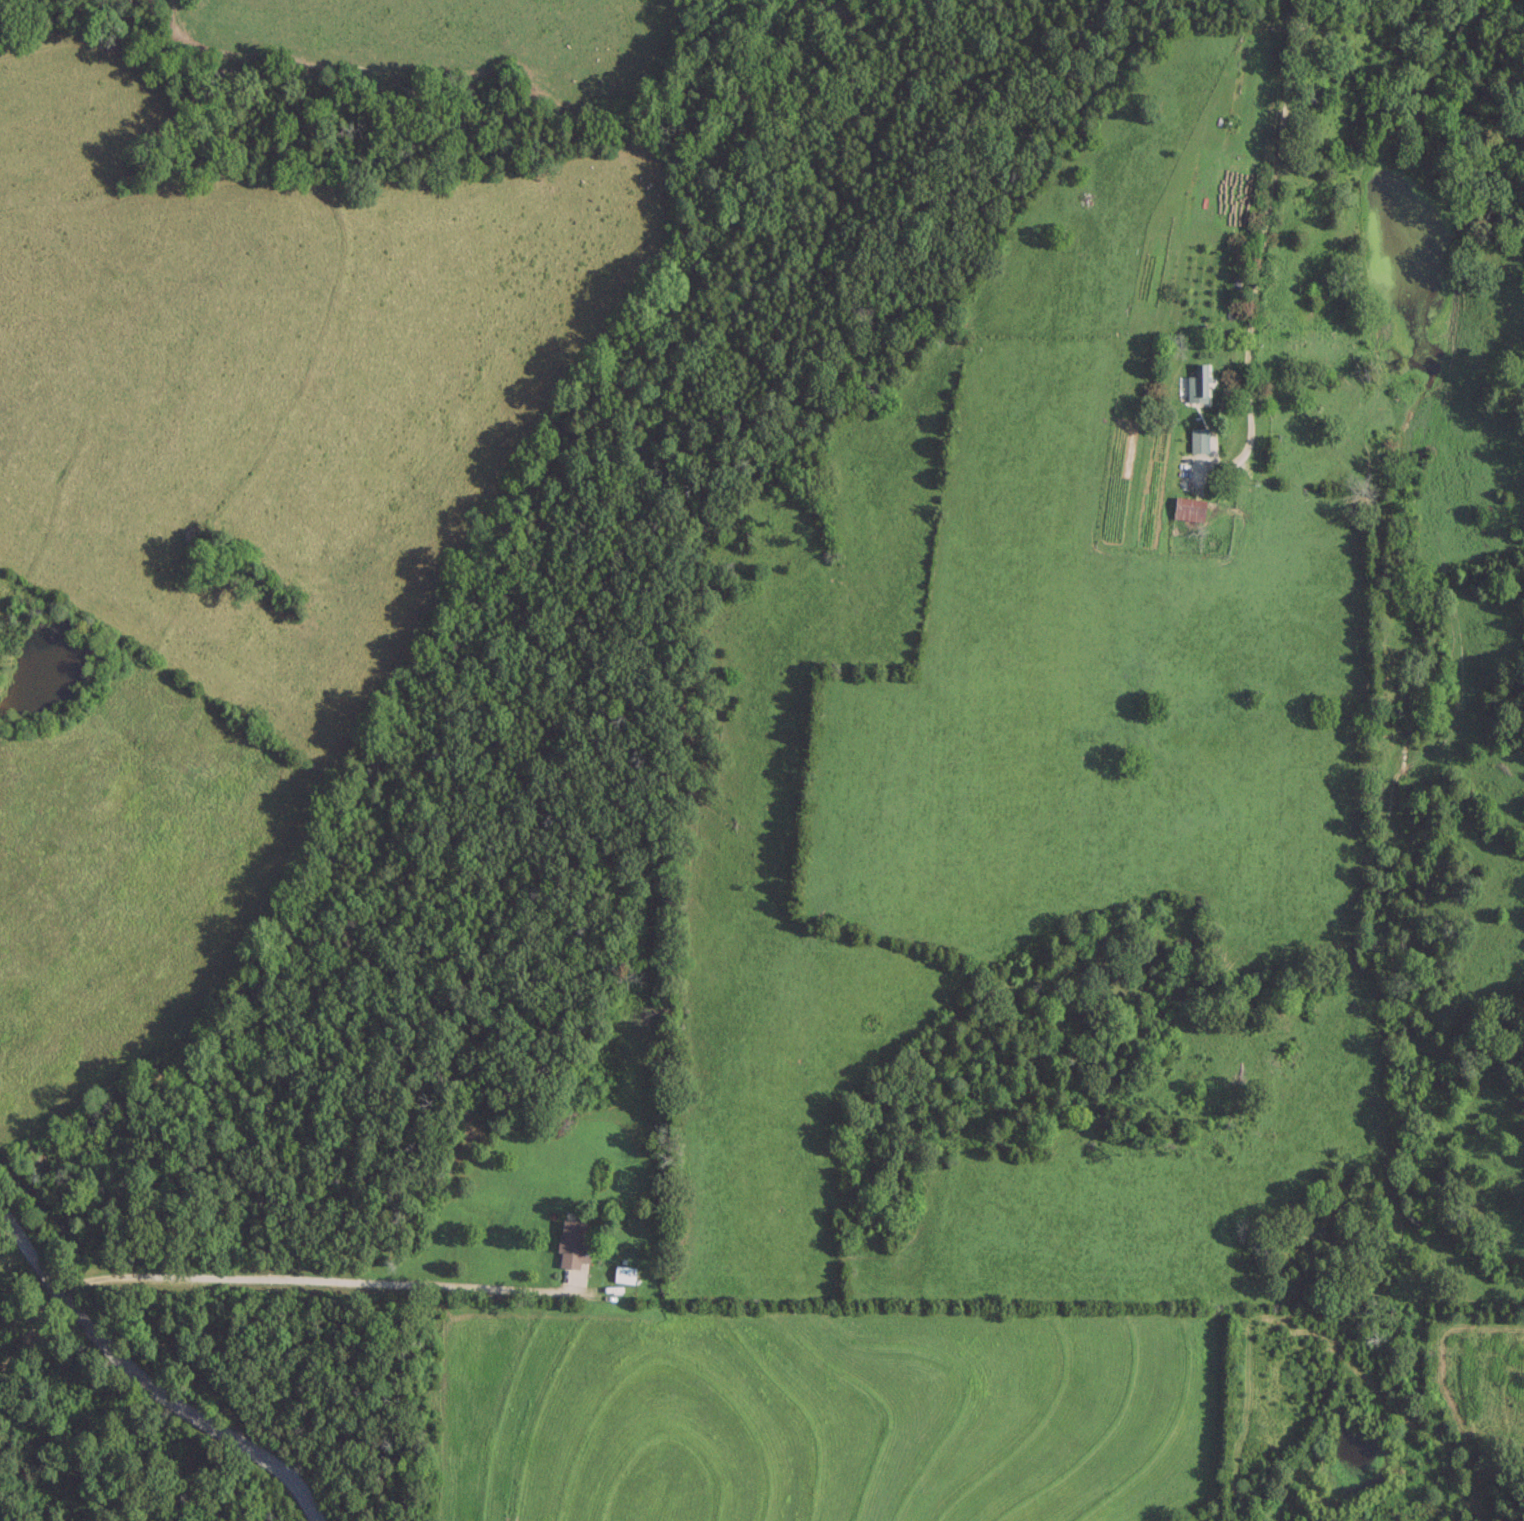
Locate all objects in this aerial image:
road: (1264, 227)
building: (1197, 383)
building: (1198, 438)
building: (1188, 508)
road: (8, 1232)
building: (572, 1244)
building: (623, 1273)
road: (308, 1282)
road: (30, 1327)
road: (143, 1379)

